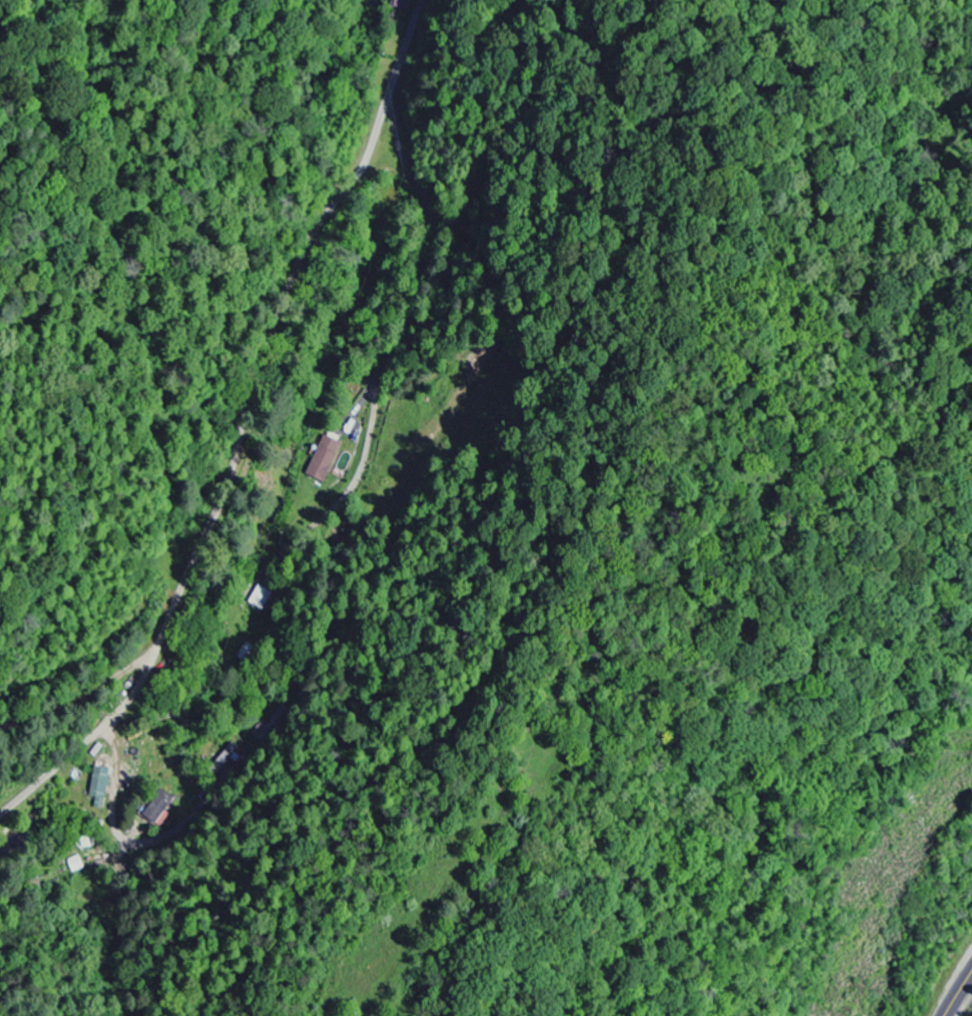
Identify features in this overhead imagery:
road: (239, 426)
building: (322, 460)
building: (266, 596)
road: (77, 701)
building: (98, 787)
building: (158, 807)
building: (75, 865)
road: (959, 996)

